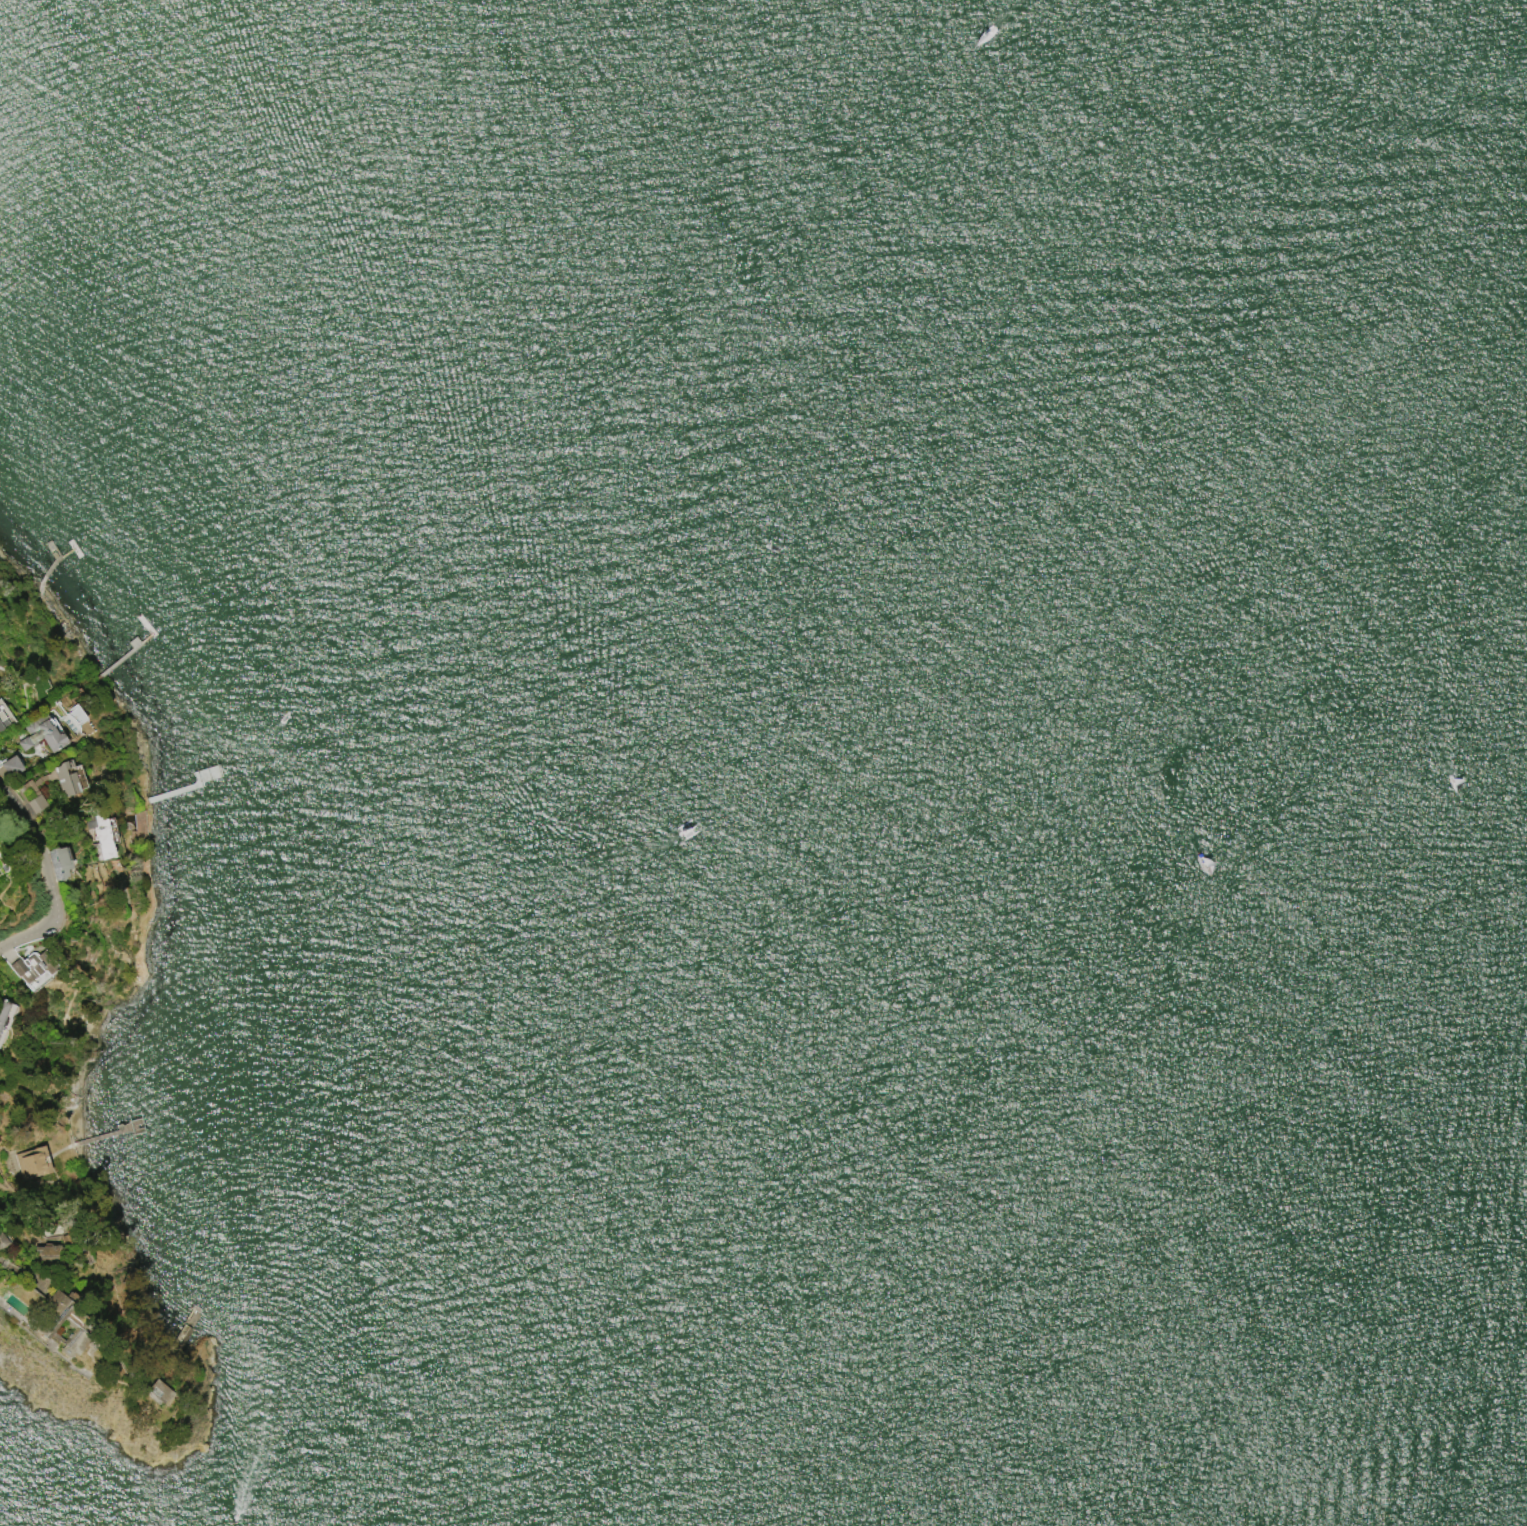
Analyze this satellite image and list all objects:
building: (74, 716)
building: (2, 724)
building: (40, 734)
building: (9, 767)
building: (69, 790)
road: (1, 795)
road: (6, 801)
building: (97, 833)
road: (26, 837)
building: (58, 862)
road: (45, 917)
building: (32, 966)
building: (2, 1013)
building: (32, 1162)
building: (1, 1241)
building: (45, 1254)
road: (27, 1292)
building: (50, 1307)
building: (155, 1392)

